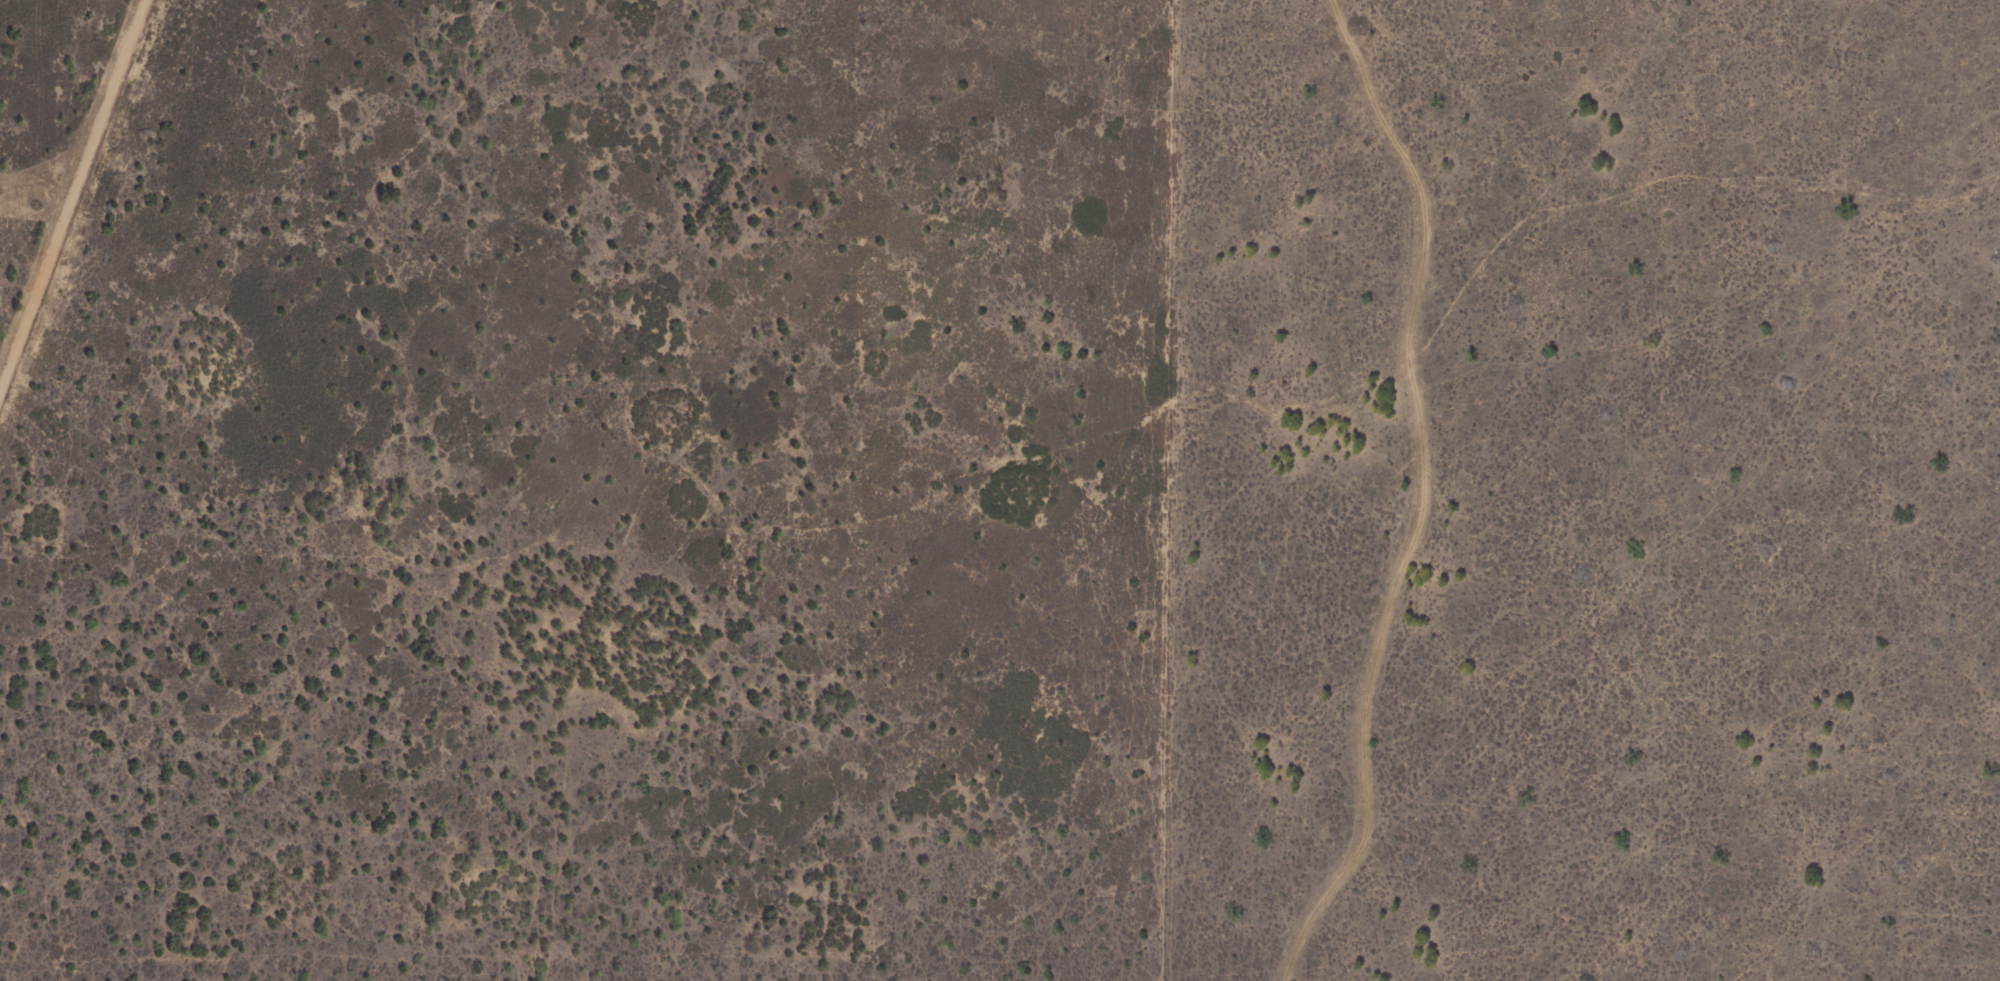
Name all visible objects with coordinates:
road: (22, 55)
road: (1397, 496)

